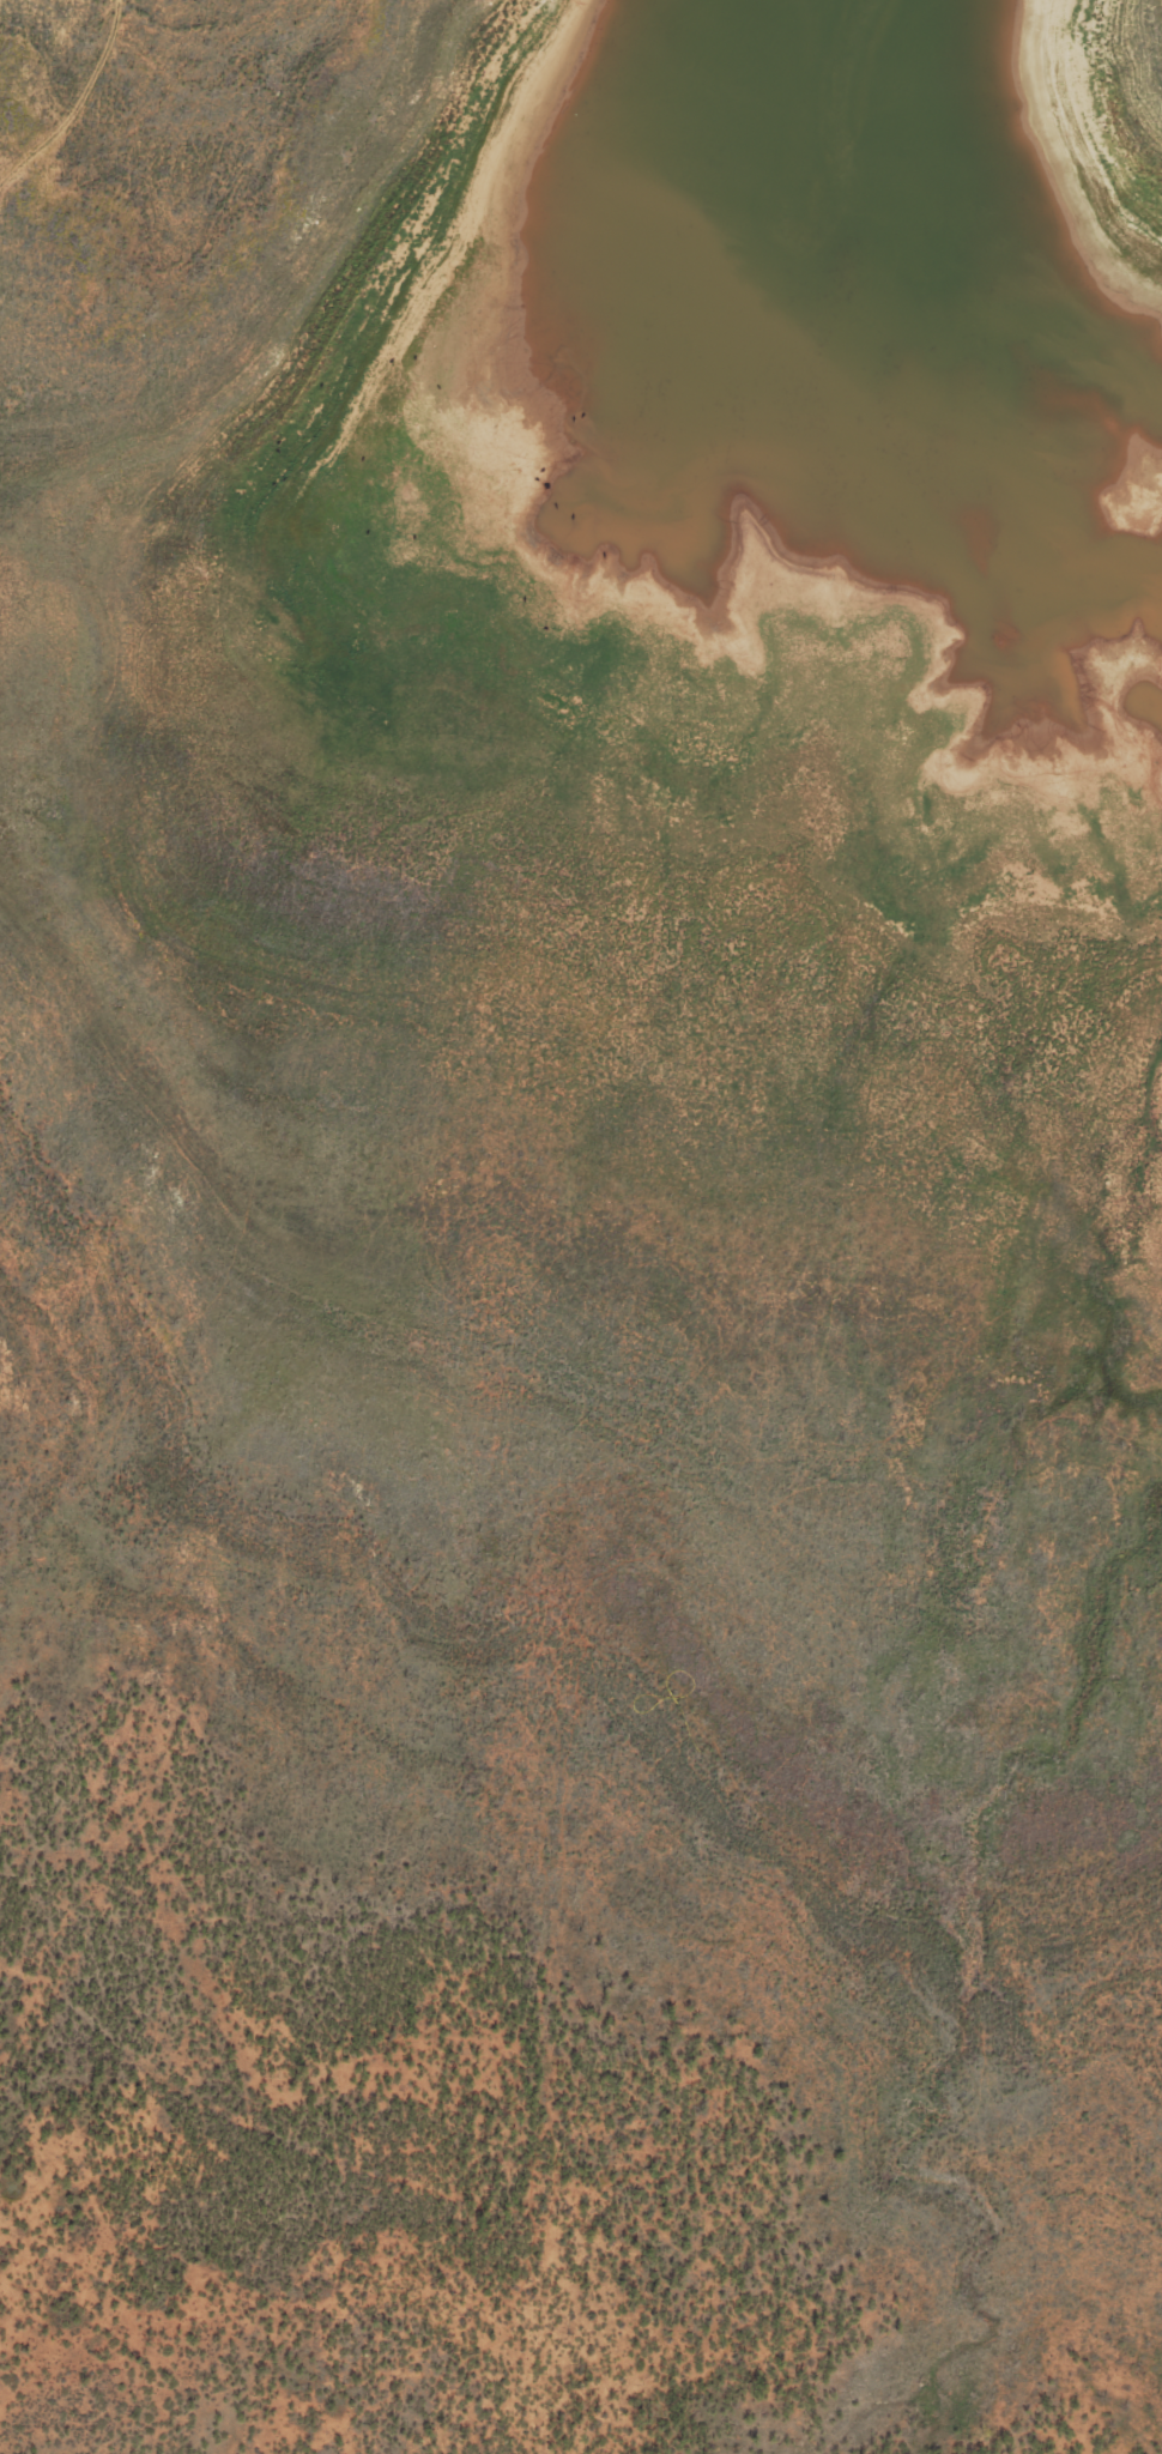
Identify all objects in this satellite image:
road: (331, 2204)

